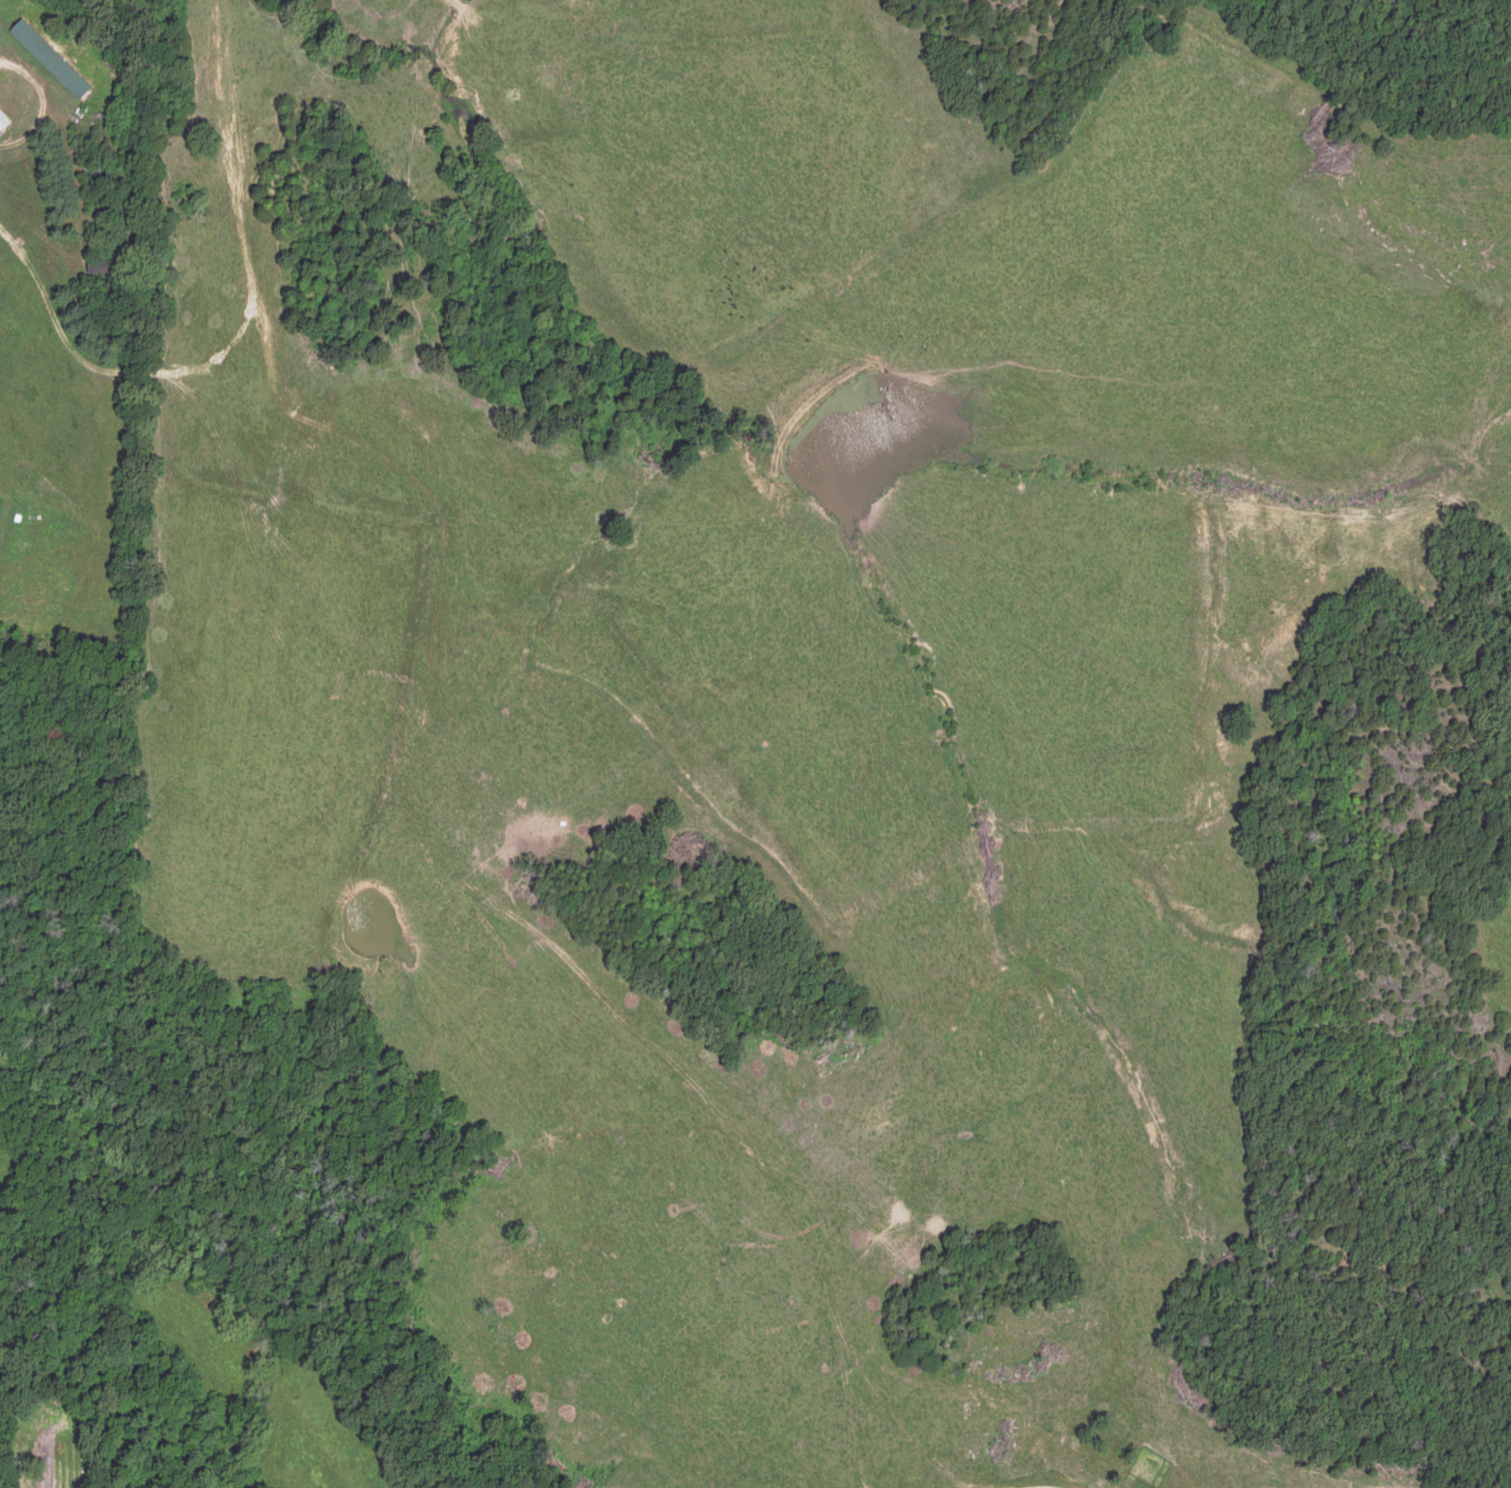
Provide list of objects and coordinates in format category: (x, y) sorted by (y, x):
building: (51, 61)
road: (39, 103)
building: (4, 123)

